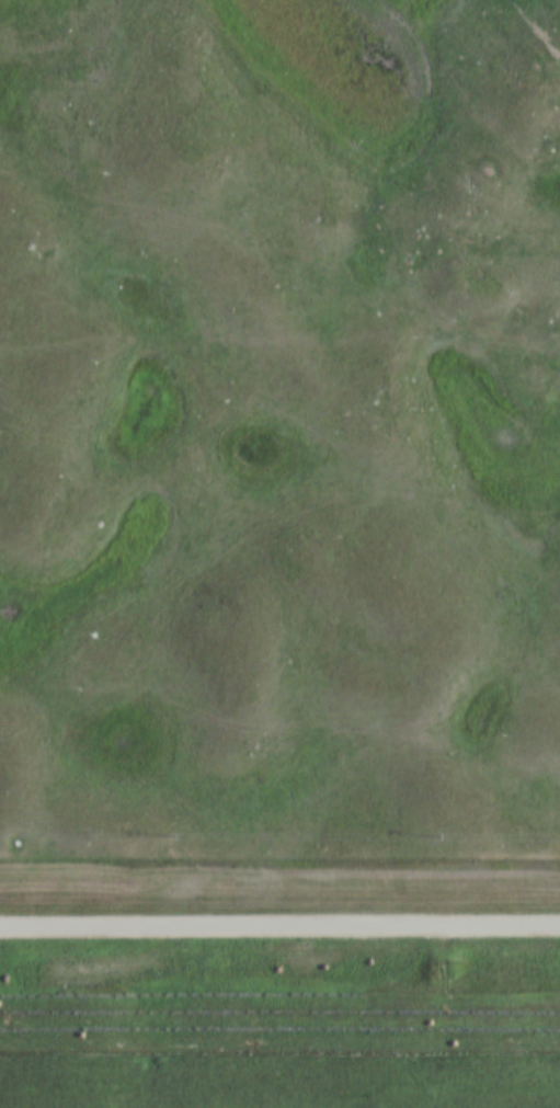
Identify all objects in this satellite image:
road: (279, 927)

